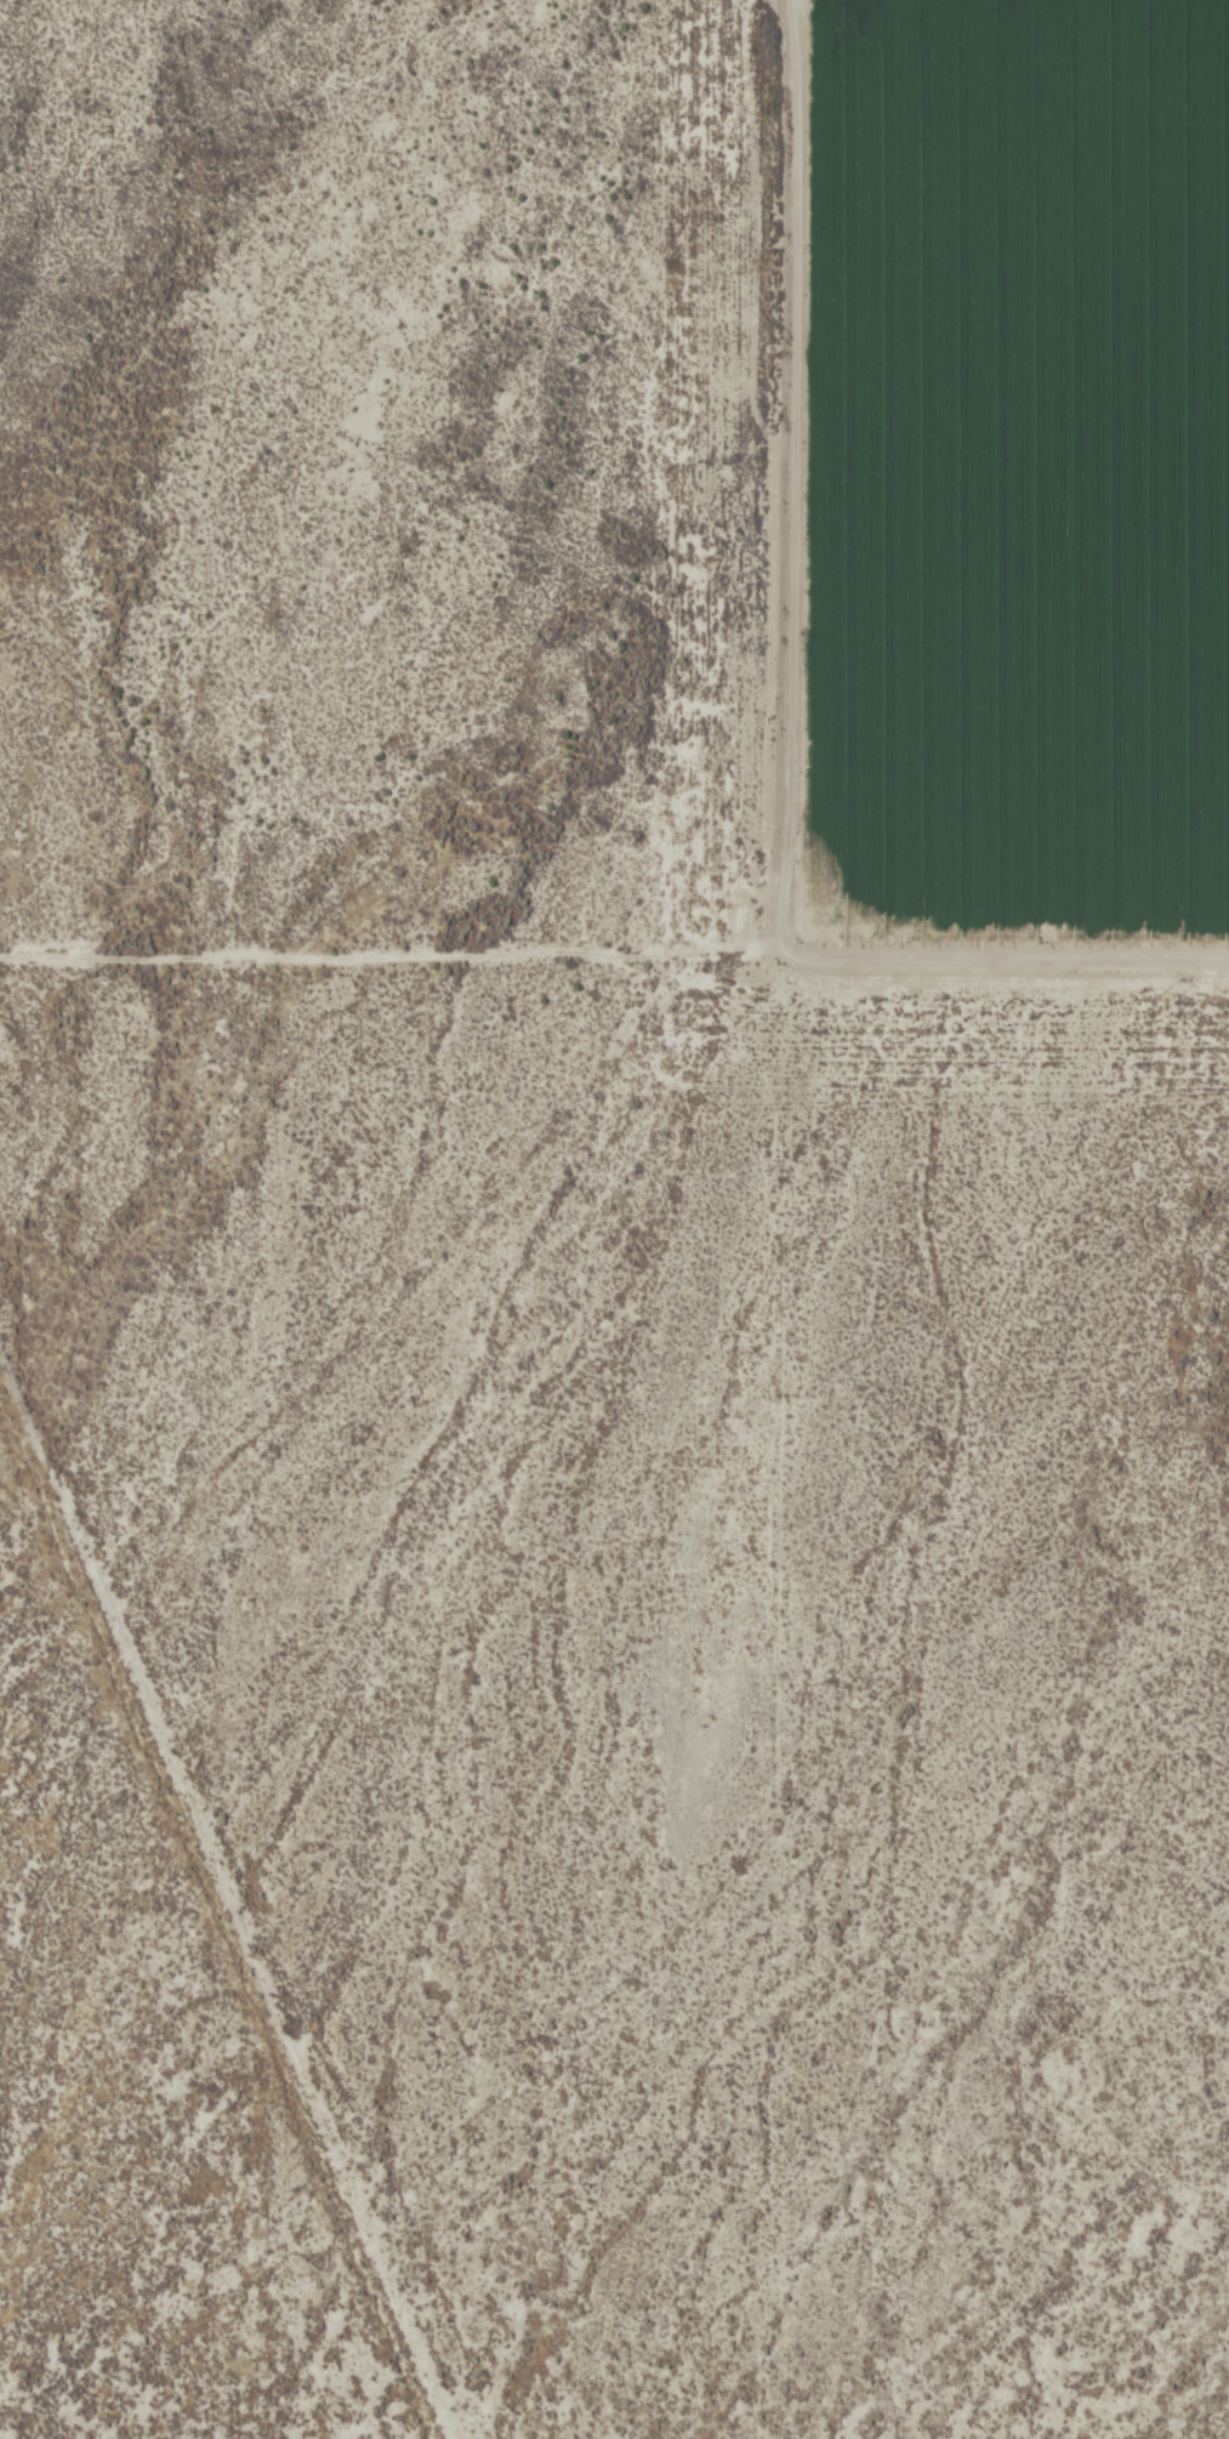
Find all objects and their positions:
crop: (614, 1219)
road: (244, 1824)

